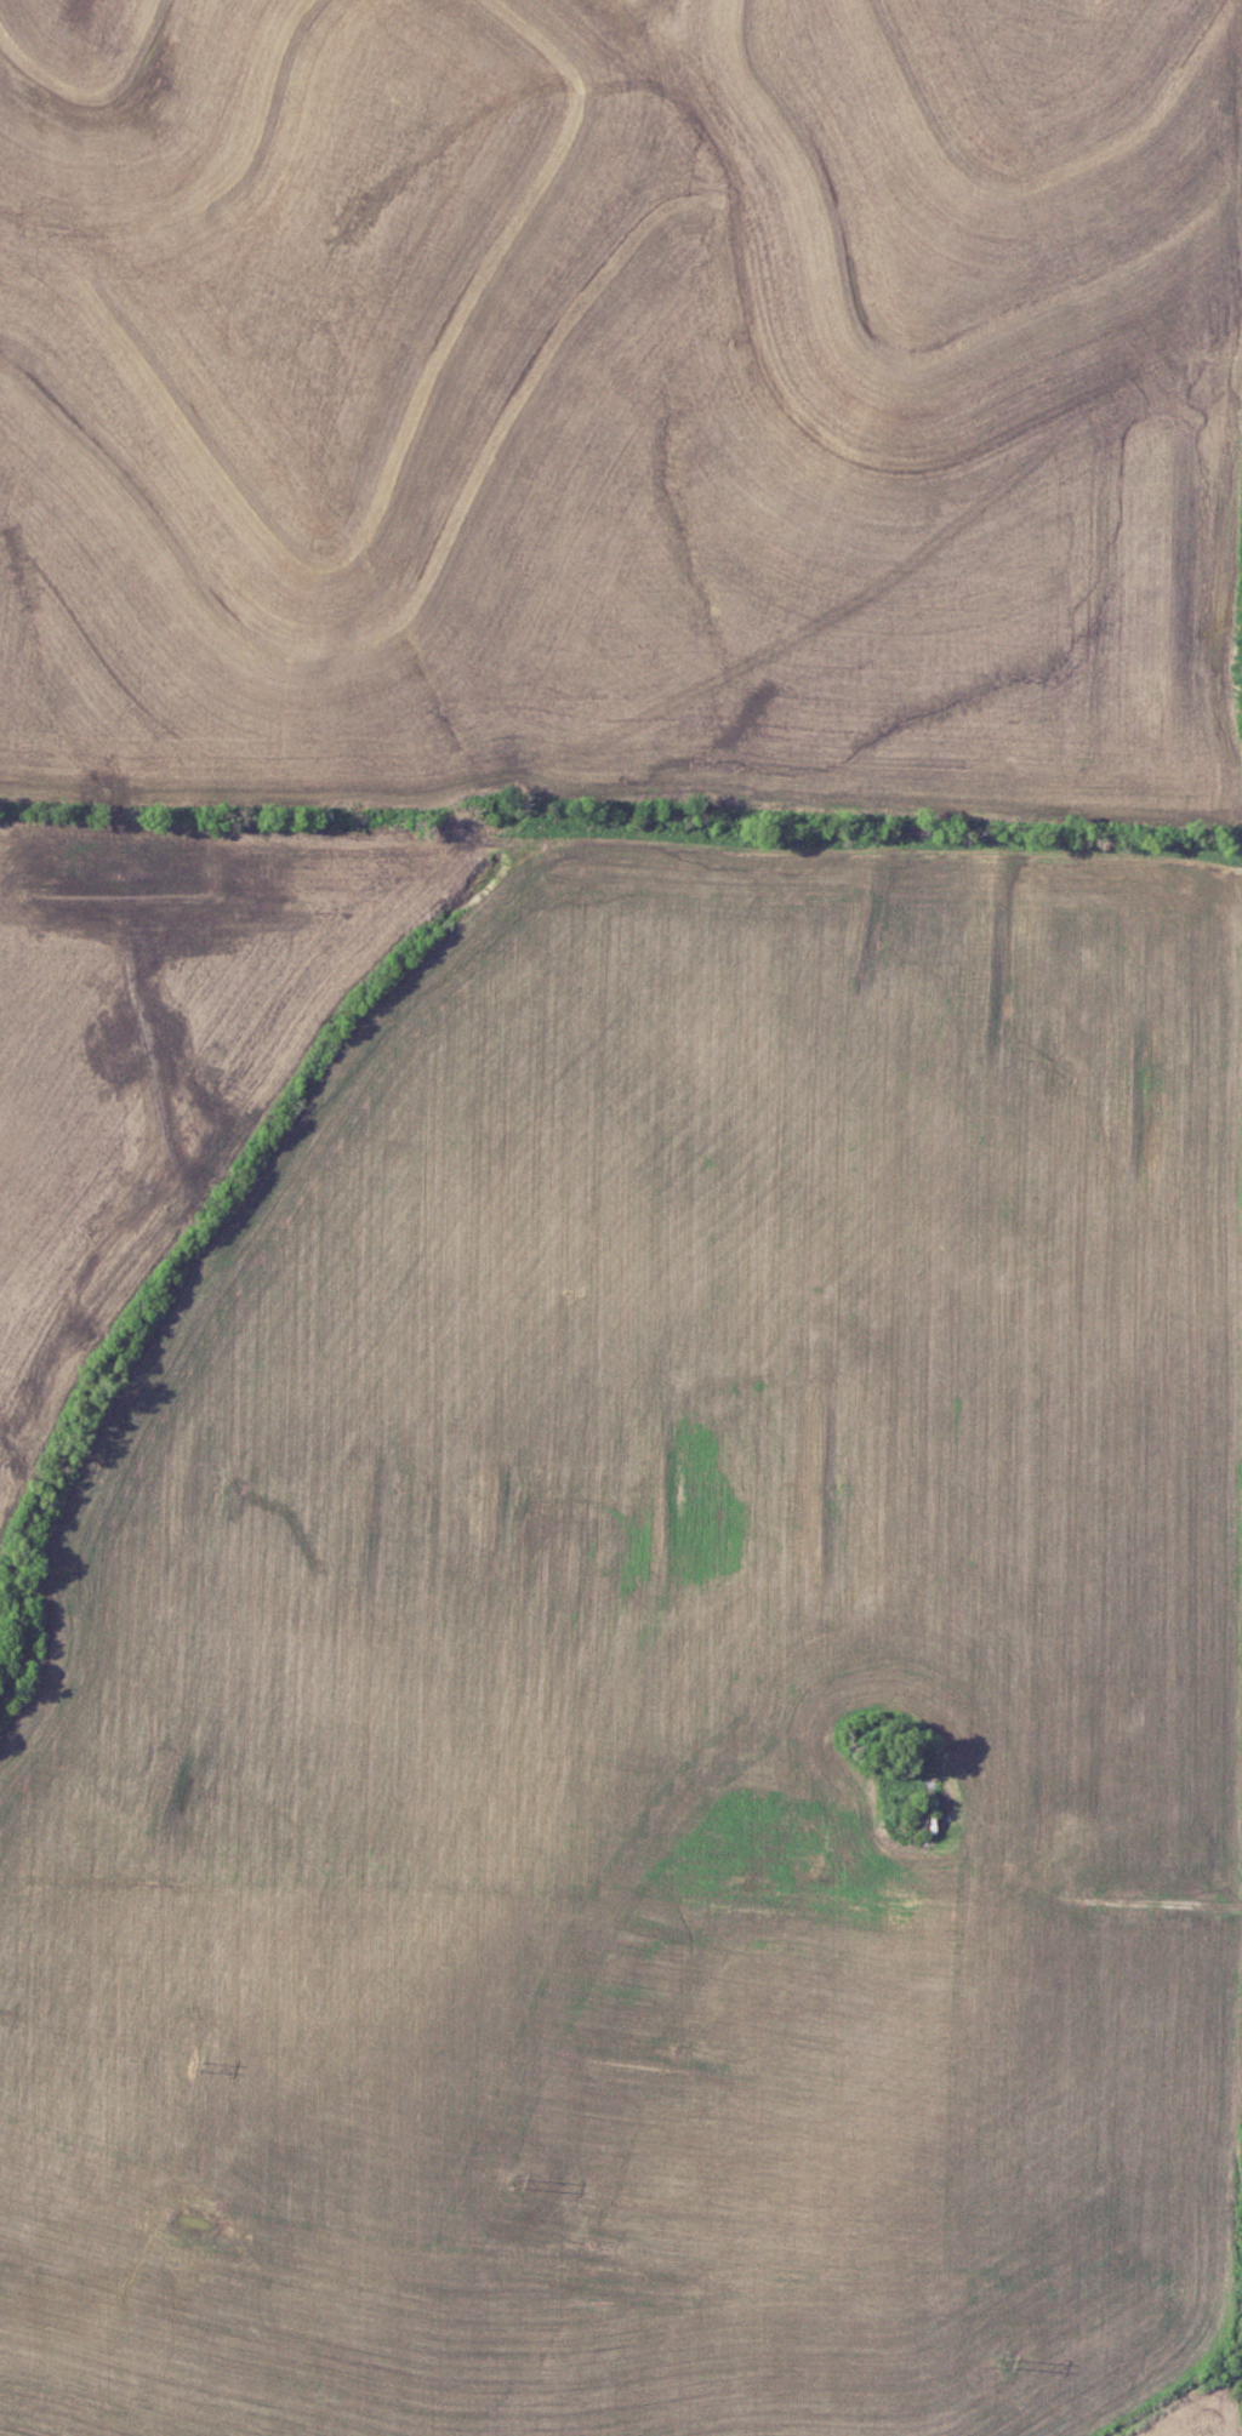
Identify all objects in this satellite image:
building: (923, 1810)

